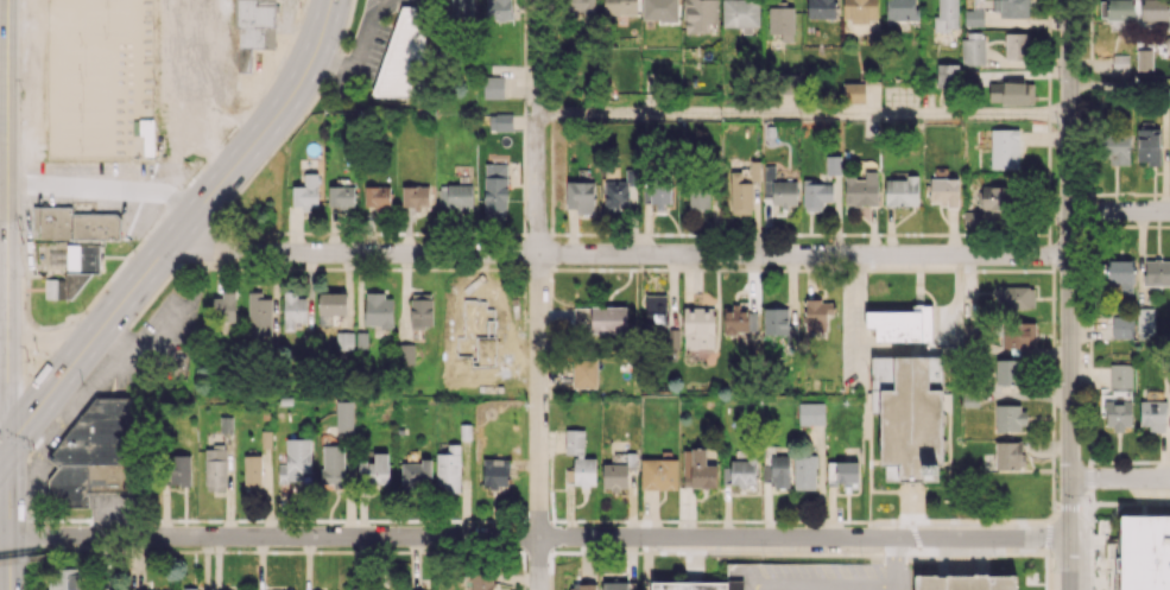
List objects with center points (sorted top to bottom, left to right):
building: (619, 6)
building: (458, 7)
building: (1014, 7)
building: (821, 8)
building: (860, 8)
building: (498, 9)
building: (581, 9)
building: (660, 9)
building: (900, 9)
building: (1117, 9)
building: (1156, 11)
building: (700, 14)
building: (740, 14)
building: (947, 14)
building: (973, 17)
building: (782, 21)
building: (253, 30)
building: (1017, 45)
building: (973, 47)
building: (403, 56)
building: (1144, 59)
building: (947, 75)
building: (789, 82)
building: (493, 87)
road: (191, 91)
building: (854, 91)
building: (1011, 93)
road: (229, 112)
road: (804, 112)
building: (500, 121)
building: (1147, 146)
building: (1114, 147)
building: (1004, 148)
building: (833, 164)
road: (105, 186)
building: (780, 188)
building: (742, 189)
building: (861, 189)
building: (494, 190)
building: (659, 191)
building: (900, 191)
building: (943, 191)
building: (305, 192)
building: (620, 192)
building: (817, 192)
building: (415, 195)
building: (340, 196)
building: (375, 196)
building: (455, 197)
building: (580, 197)
building: (698, 197)
building: (995, 197)
road: (1120, 210)
building: (972, 217)
road: (7, 218)
building: (74, 223)
road: (183, 226)
road: (1070, 239)
road: (616, 253)
building: (1157, 272)
building: (1121, 274)
building: (53, 288)
road: (539, 294)
building: (1014, 297)
building: (331, 305)
building: (224, 306)
building: (488, 307)
building: (656, 309)
building: (293, 310)
building: (420, 310)
building: (378, 311)
building: (817, 313)
building: (259, 315)
building: (735, 318)
building: (600, 319)
building: (1145, 322)
building: (778, 323)
building: (900, 323)
building: (698, 328)
building: (1121, 328)
building: (1017, 334)
building: (672, 338)
building: (343, 341)
building: (1006, 370)
building: (583, 373)
building: (881, 373)
building: (1120, 375)
road: (4, 398)
building: (810, 413)
building: (1117, 413)
building: (1152, 414)
building: (343, 415)
building: (1008, 418)
building: (912, 421)
building: (224, 424)
traffic signals: (10, 437)
building: (574, 442)
road: (5, 443)
building: (94, 453)
building: (1008, 455)
building: (295, 459)
building: (333, 463)
building: (179, 469)
building: (215, 469)
building: (373, 469)
building: (448, 469)
building: (697, 469)
building: (583, 470)
building: (252, 471)
building: (779, 471)
building: (804, 471)
building: (742, 472)
building: (841, 472)
building: (416, 474)
building: (495, 474)
building: (658, 474)
building: (614, 475)
road: (1120, 478)
parking lot: (1149, 489)
road: (1070, 507)
road: (11, 513)
road: (535, 537)
parking lot: (769, 543)
building: (1143, 553)
road: (46, 558)
parking lot: (1075, 562)
road: (893, 563)
road: (1049, 563)
road: (1070, 563)
building: (772, 575)
building: (65, 578)
building: (481, 581)
building: (965, 582)
road: (822, 584)
building: (614, 585)
building: (697, 585)
road: (751, 588)
building: (53, 589)
building: (196, 589)
building: (473, 589)
building: (570, 589)
building: (627, 589)

